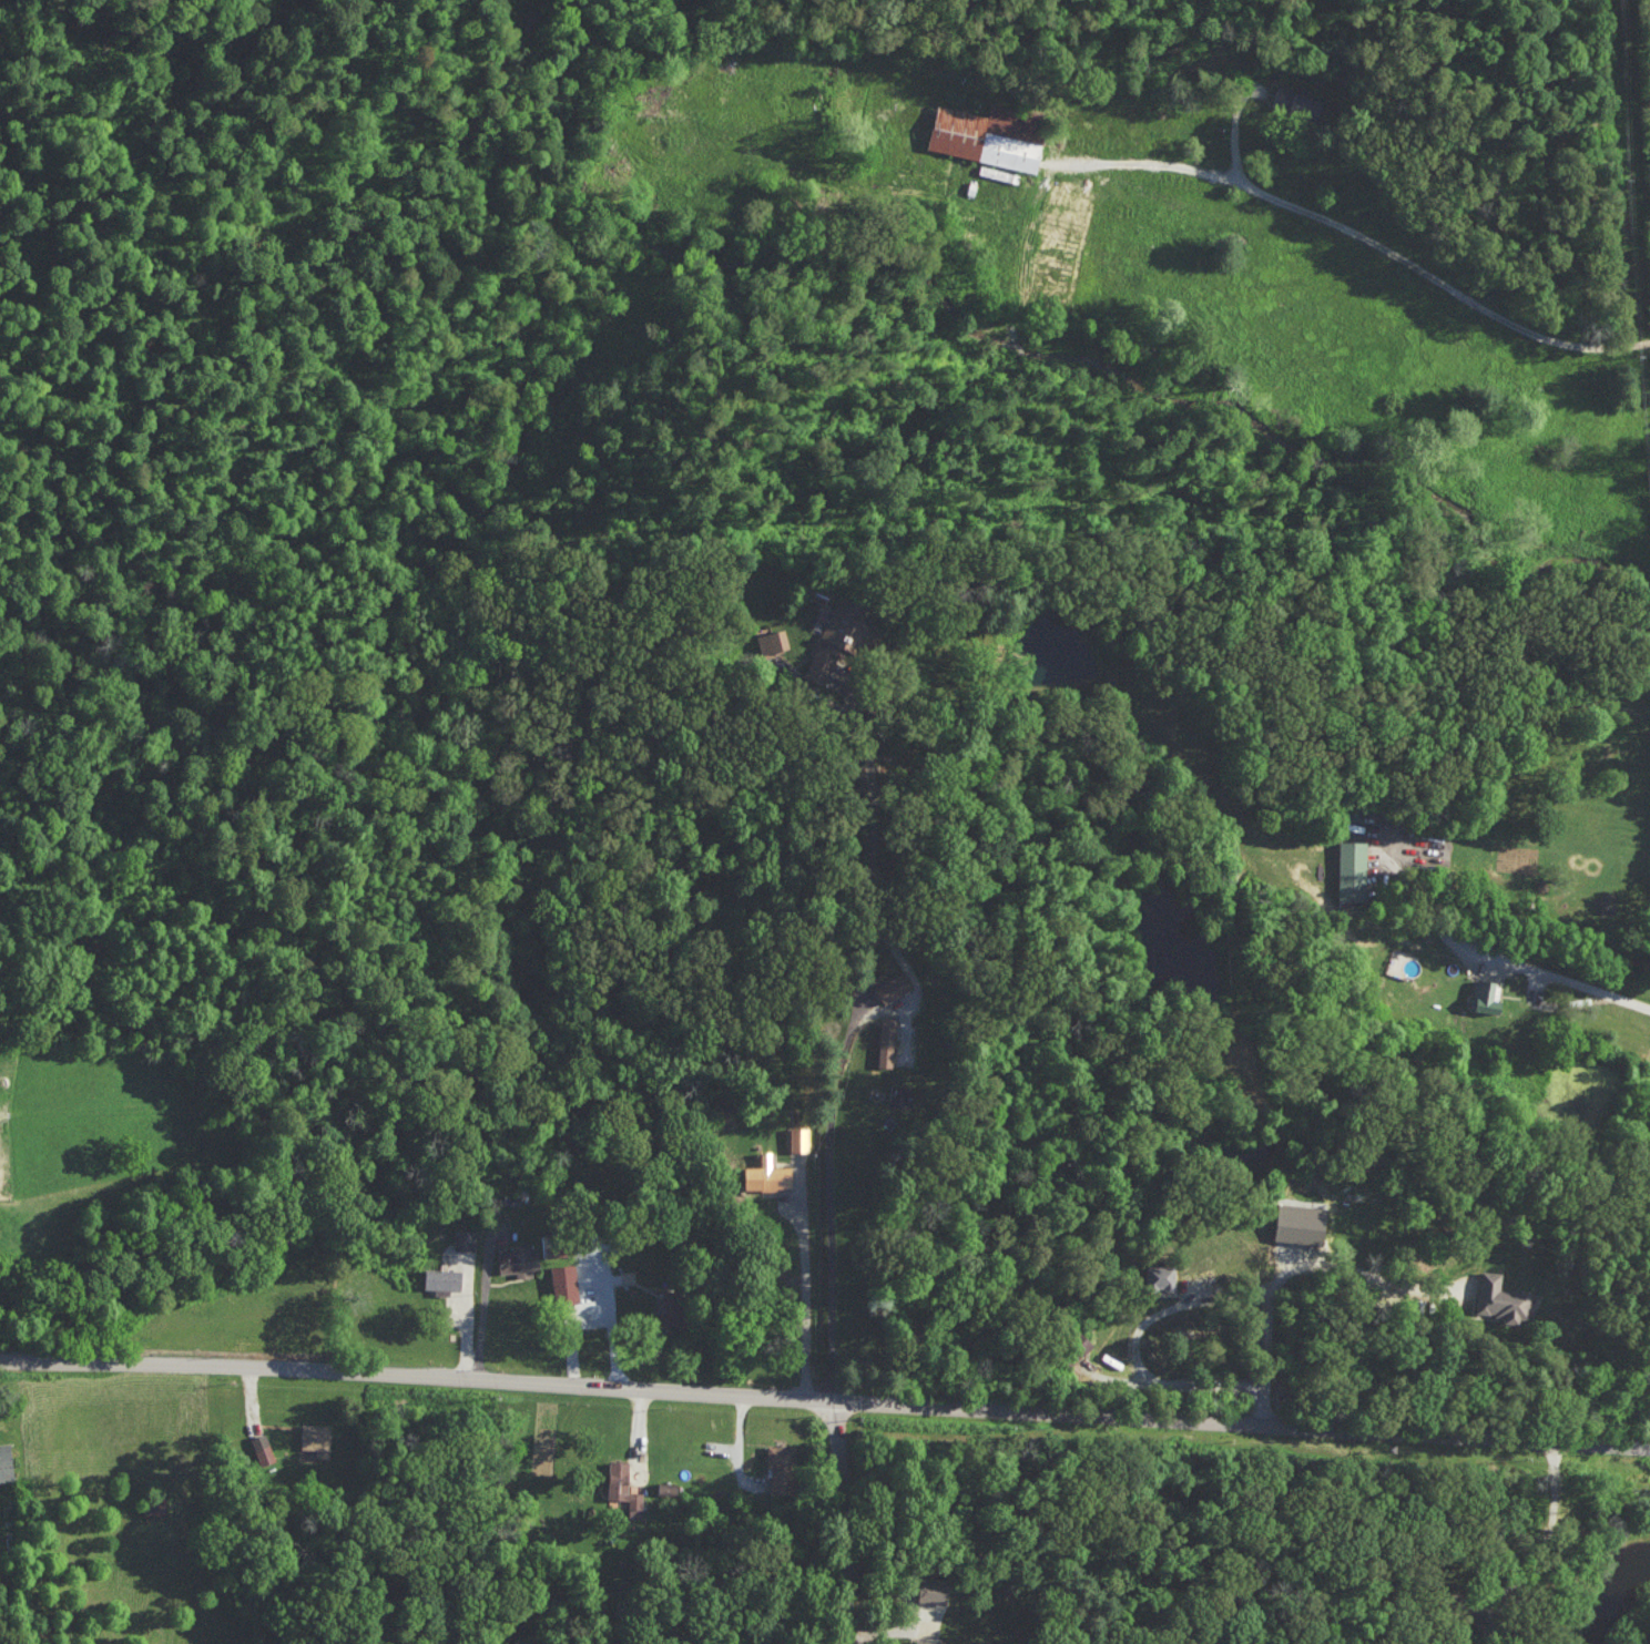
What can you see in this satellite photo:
building: (1292, 102)
road: (1234, 126)
building: (975, 140)
road: (1348, 229)
building: (839, 635)
building: (774, 642)
building: (1345, 870)
road: (1551, 977)
road: (915, 981)
building: (894, 987)
building: (888, 1041)
road: (843, 1050)
building: (801, 1138)
building: (771, 1174)
building: (1292, 1224)
building: (465, 1238)
building: (558, 1244)
building: (520, 1260)
building: (1163, 1275)
building: (444, 1278)
building: (566, 1281)
road: (1277, 1288)
road: (804, 1294)
road: (485, 1296)
building: (1495, 1299)
building: (674, 1310)
road: (610, 1324)
road: (1134, 1339)
road: (825, 1398)
road: (258, 1408)
building: (318, 1438)
building: (263, 1449)
building: (6, 1461)
building: (781, 1469)
building: (623, 1484)
building: (666, 1489)
building: (156, 1505)
road: (842, 1521)
building: (933, 1642)

